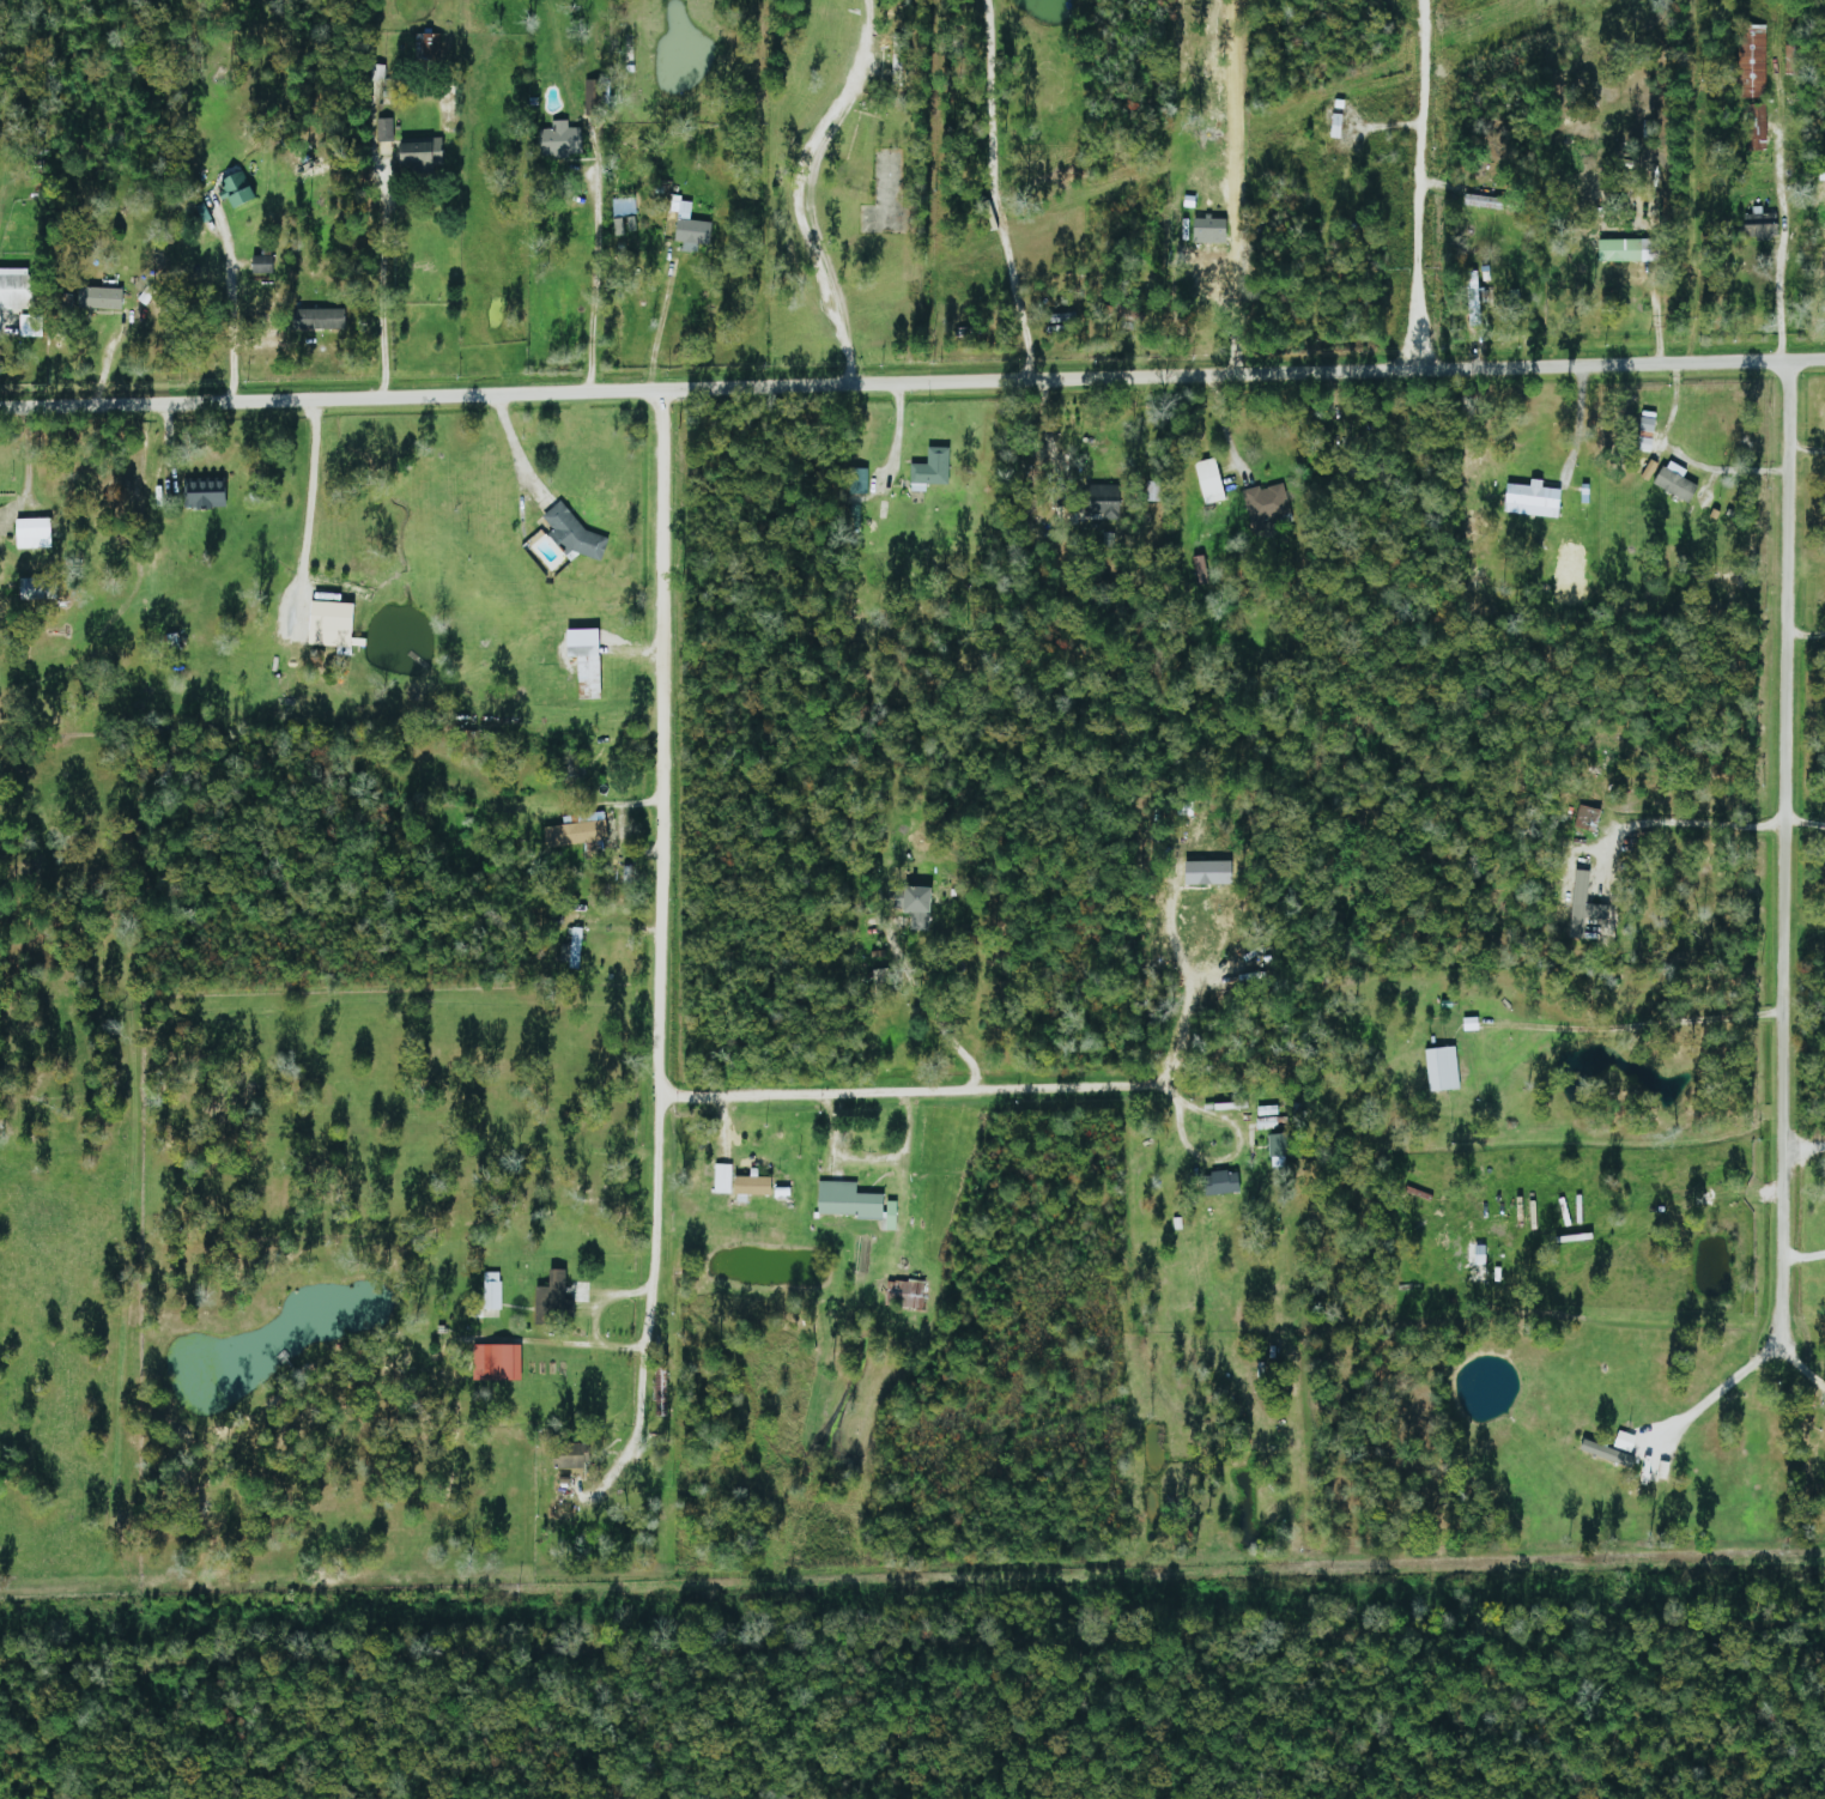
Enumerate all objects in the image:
building: (1753, 61)
building: (596, 97)
building: (1757, 127)
building: (386, 129)
building: (564, 140)
building: (423, 152)
building: (311, 174)
building: (1821, 174)
road: (795, 184)
road: (1417, 184)
building: (240, 189)
road: (992, 190)
building: (1760, 219)
building: (693, 229)
building: (1211, 229)
road: (1787, 230)
building: (1630, 250)
road: (595, 255)
building: (263, 266)
road: (382, 280)
building: (16, 289)
building: (105, 298)
road: (224, 301)
building: (325, 319)
road: (912, 378)
building: (1648, 424)
road: (513, 442)
building: (932, 470)
building: (1650, 470)
building: (1211, 481)
building: (1677, 481)
building: (207, 493)
building: (1533, 499)
building: (1266, 502)
building: (1103, 503)
road: (309, 504)
building: (35, 533)
building: (575, 533)
building: (333, 624)
road: (1808, 635)
building: (589, 667)
road: (662, 743)
road: (1682, 822)
building: (576, 832)
road: (1790, 847)
building: (1209, 873)
building: (1584, 903)
building: (918, 907)
road: (1174, 1001)
road: (933, 1022)
road: (1648, 1024)
building: (1443, 1068)
road: (898, 1095)
building: (1267, 1110)
building: (1266, 1122)
road: (1237, 1139)
building: (1279, 1150)
building: (723, 1179)
building: (1217, 1182)
building: (754, 1185)
building: (855, 1203)
road: (1807, 1255)
building: (492, 1290)
building: (905, 1294)
building: (552, 1296)
road: (648, 1302)
road: (1808, 1355)
building: (498, 1362)
road: (1721, 1389)
building: (1605, 1452)
building: (572, 1455)
building: (1655, 1468)

